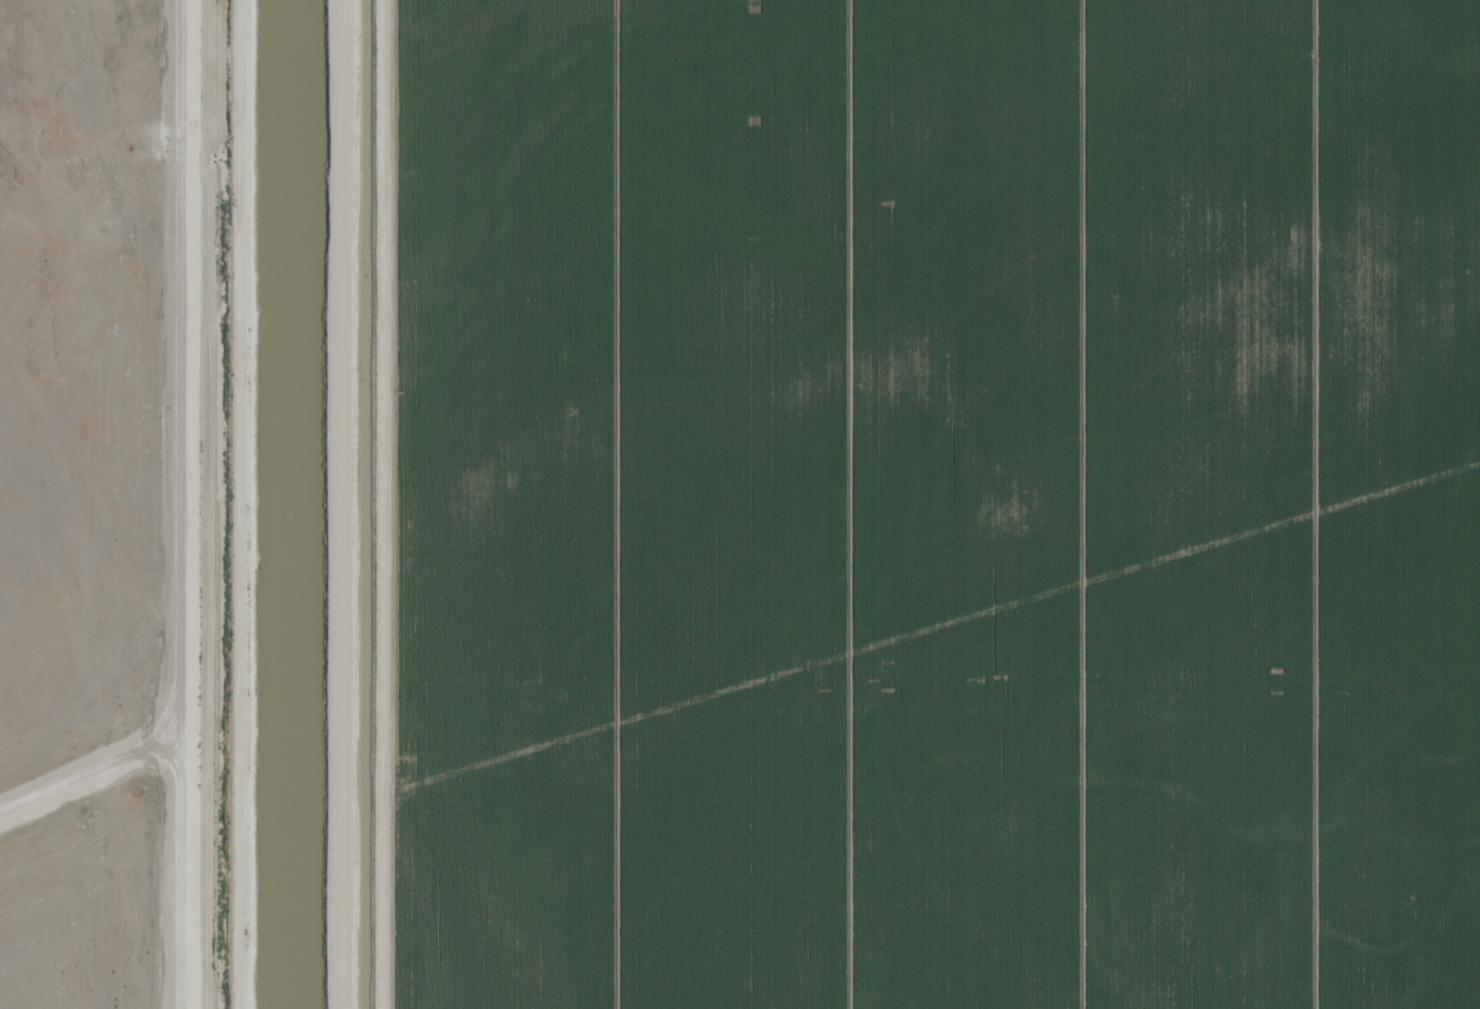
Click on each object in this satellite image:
road: (201, 504)
road: (309, 504)

